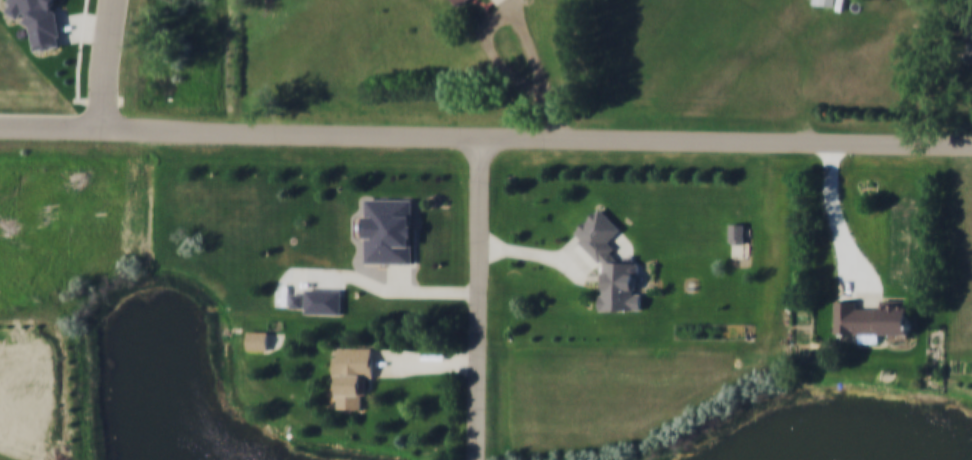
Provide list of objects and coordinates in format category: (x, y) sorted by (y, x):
building: (459, 3)
building: (824, 4)
road: (507, 6)
building: (42, 22)
road: (84, 26)
building: (971, 27)
road: (81, 49)
road: (100, 64)
road: (575, 68)
road: (534, 93)
road: (99, 100)
road: (557, 122)
road: (485, 136)
road: (838, 219)
building: (389, 229)
building: (737, 231)
building: (610, 262)
road: (479, 298)
building: (319, 299)
building: (873, 317)
building: (258, 339)
building: (352, 374)

